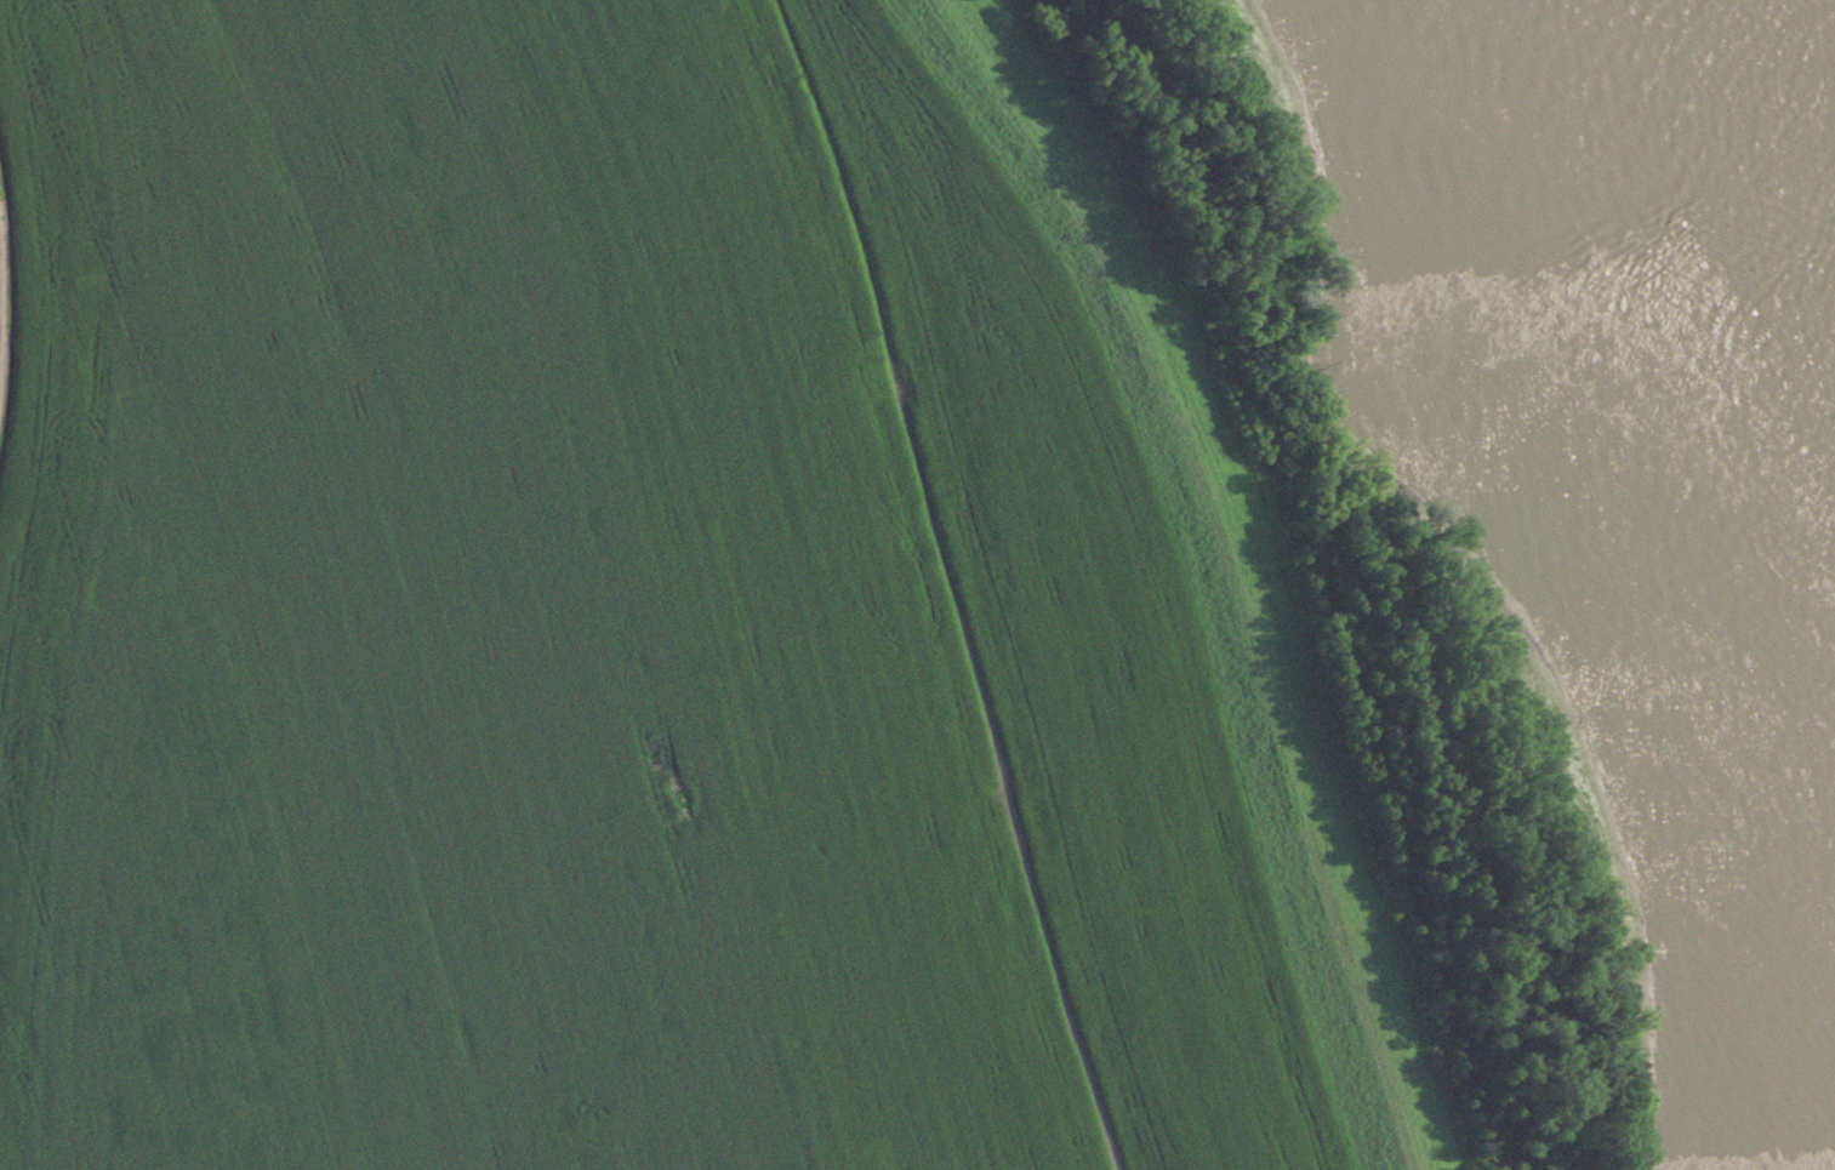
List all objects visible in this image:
river: (1765, 143)

